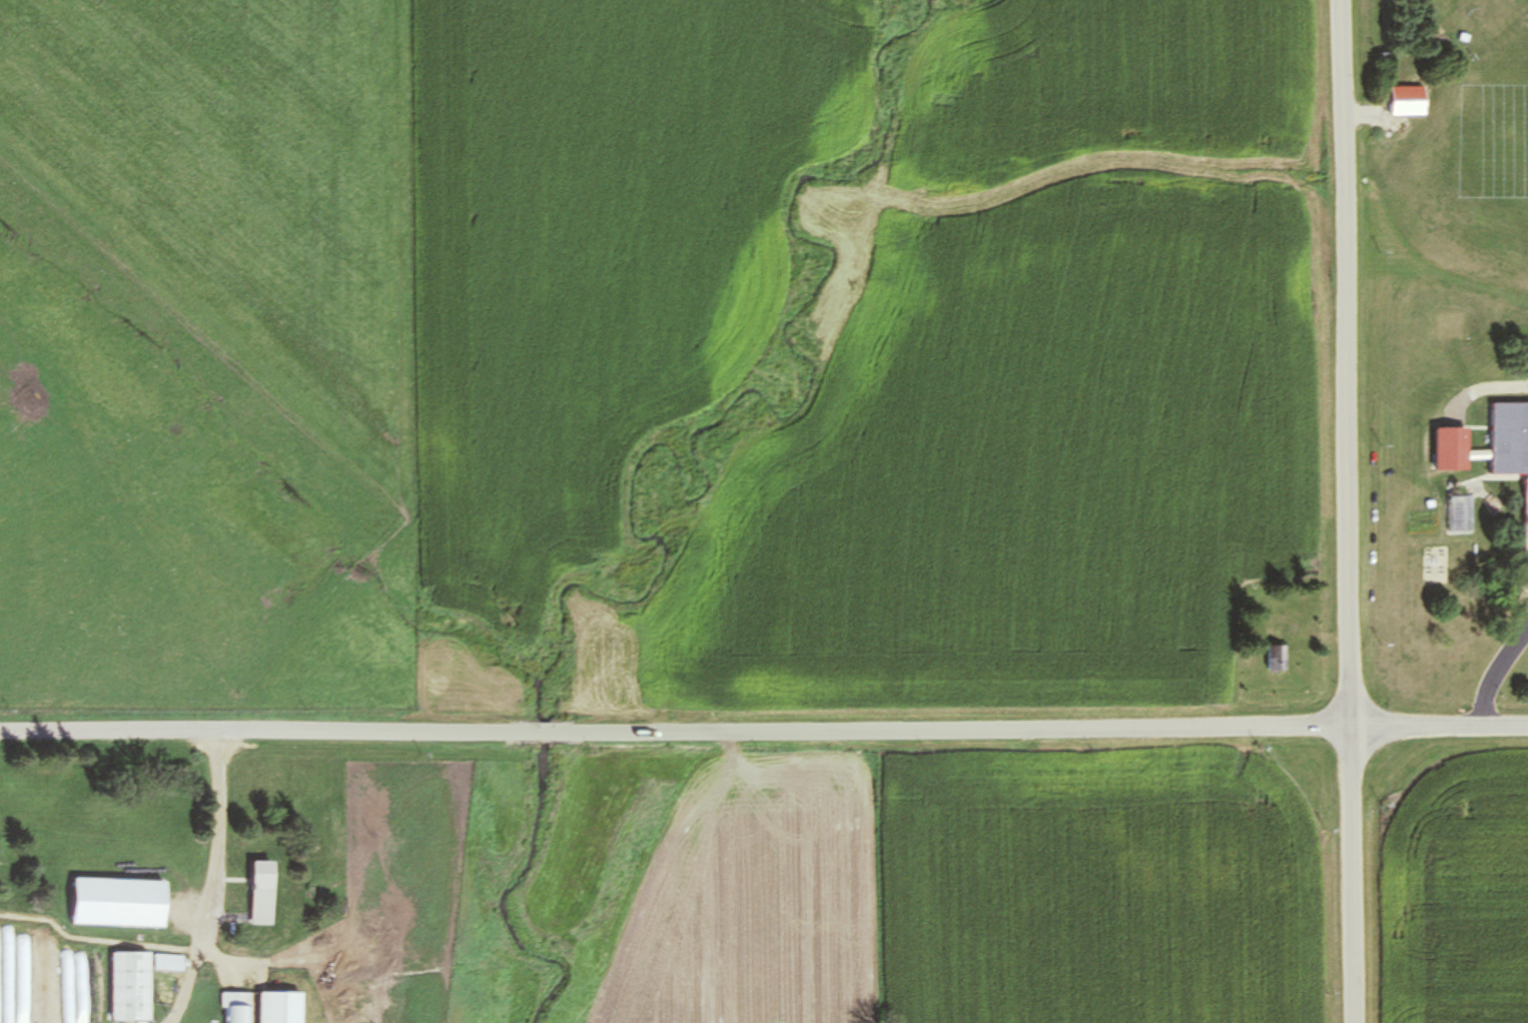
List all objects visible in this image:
building: (1409, 101)
park: (1495, 103)
building: (1511, 451)
road: (1477, 477)
road: (1346, 511)
building: (1458, 512)
building: (1278, 658)
road: (1493, 674)
road: (763, 733)
building: (263, 892)
building: (120, 902)
building: (132, 986)
building: (237, 1007)
building: (281, 1007)
building: (7, 1012)
building: (43, 1018)

